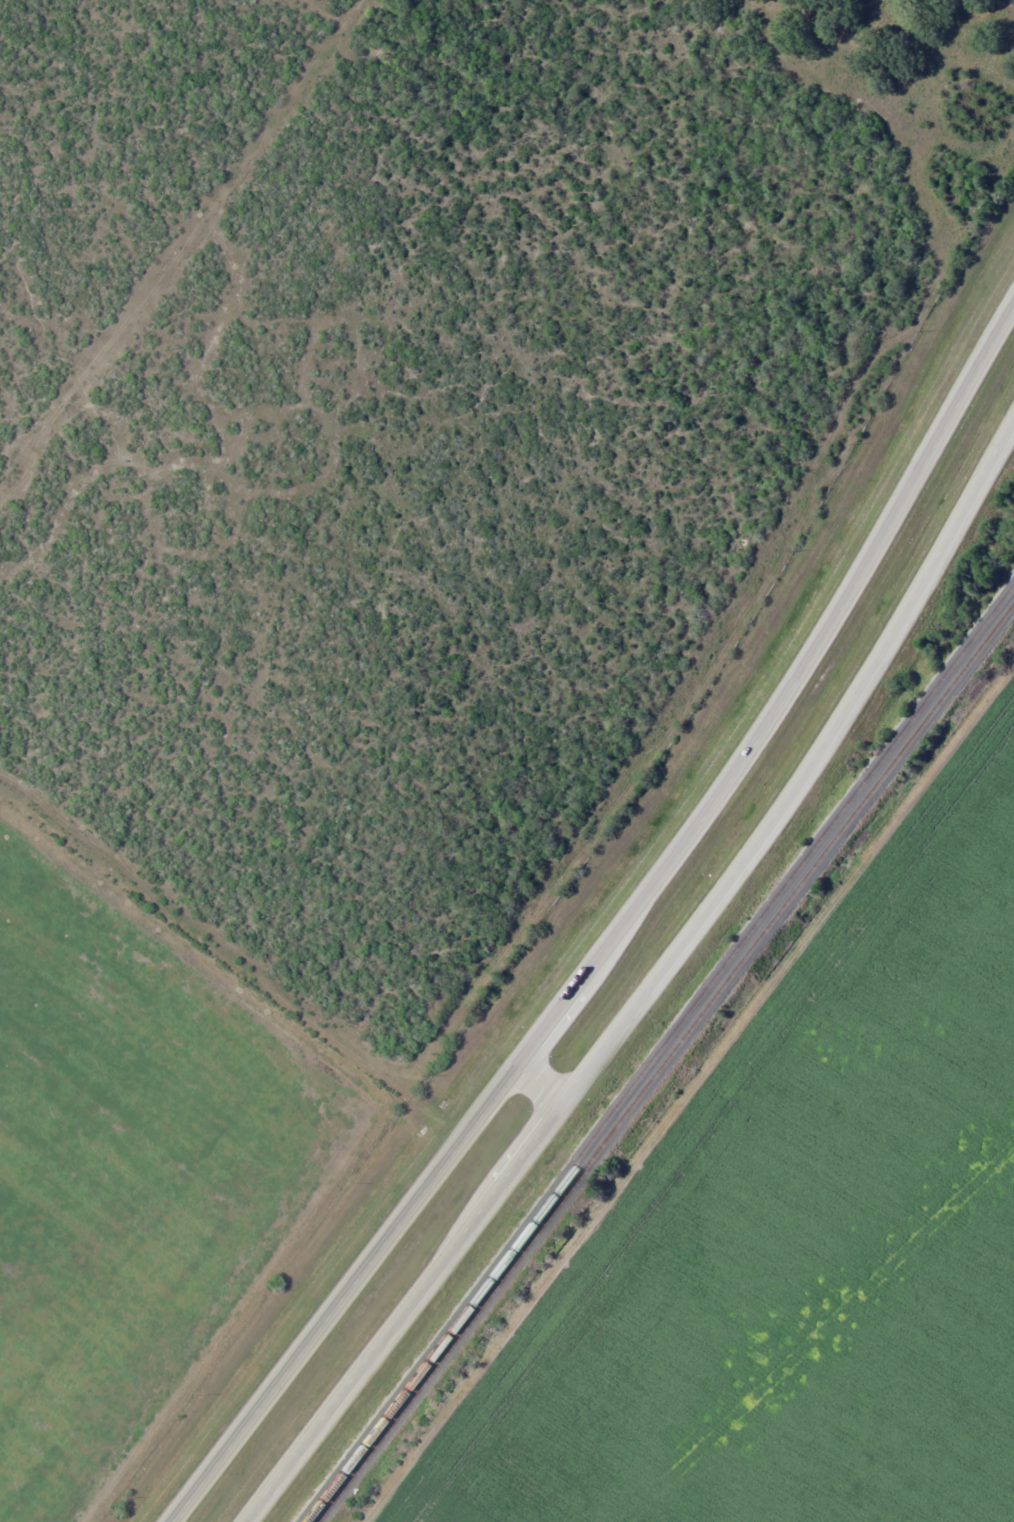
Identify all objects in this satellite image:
road: (617, 931)
road: (649, 997)
railway: (666, 1063)
road: (546, 1081)

